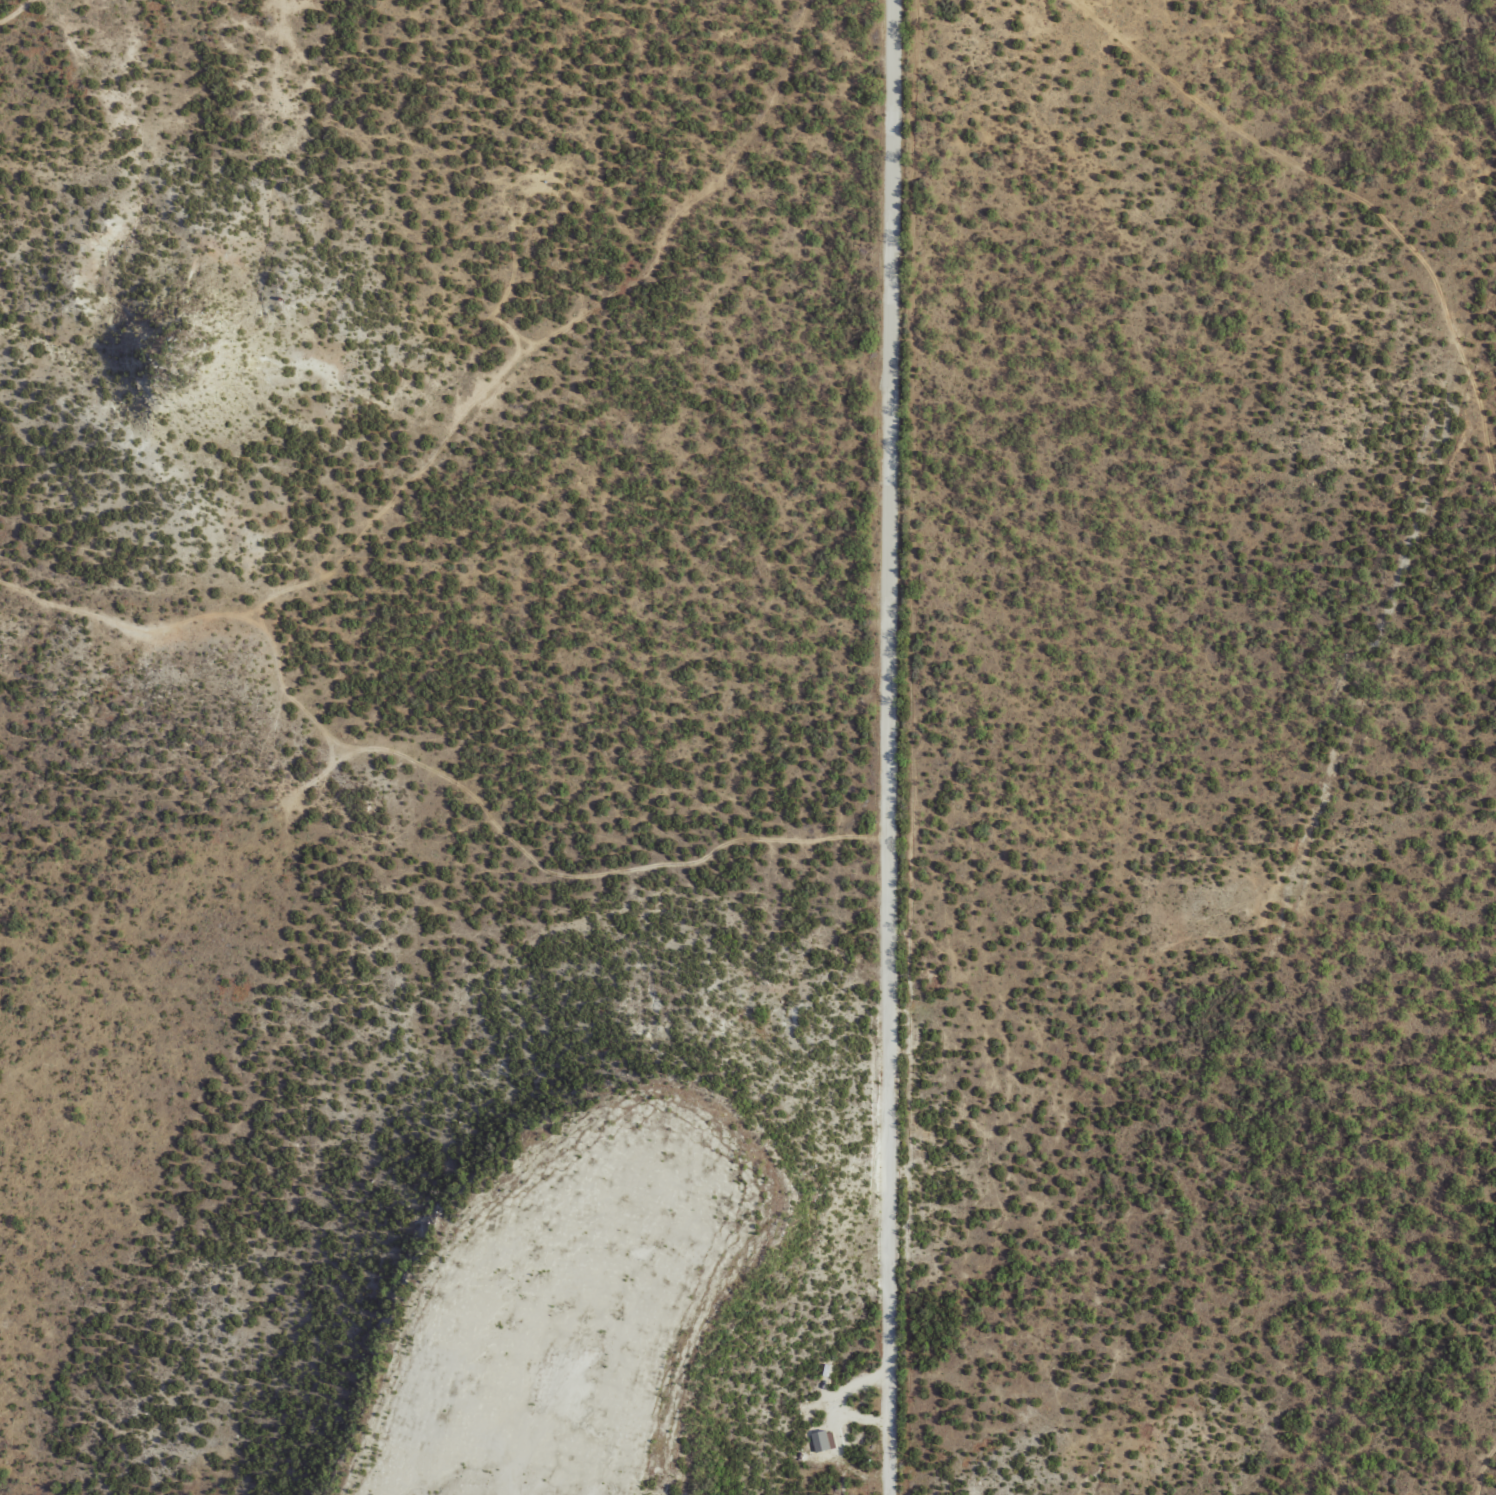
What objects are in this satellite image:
road: (883, 747)
building: (823, 1441)

